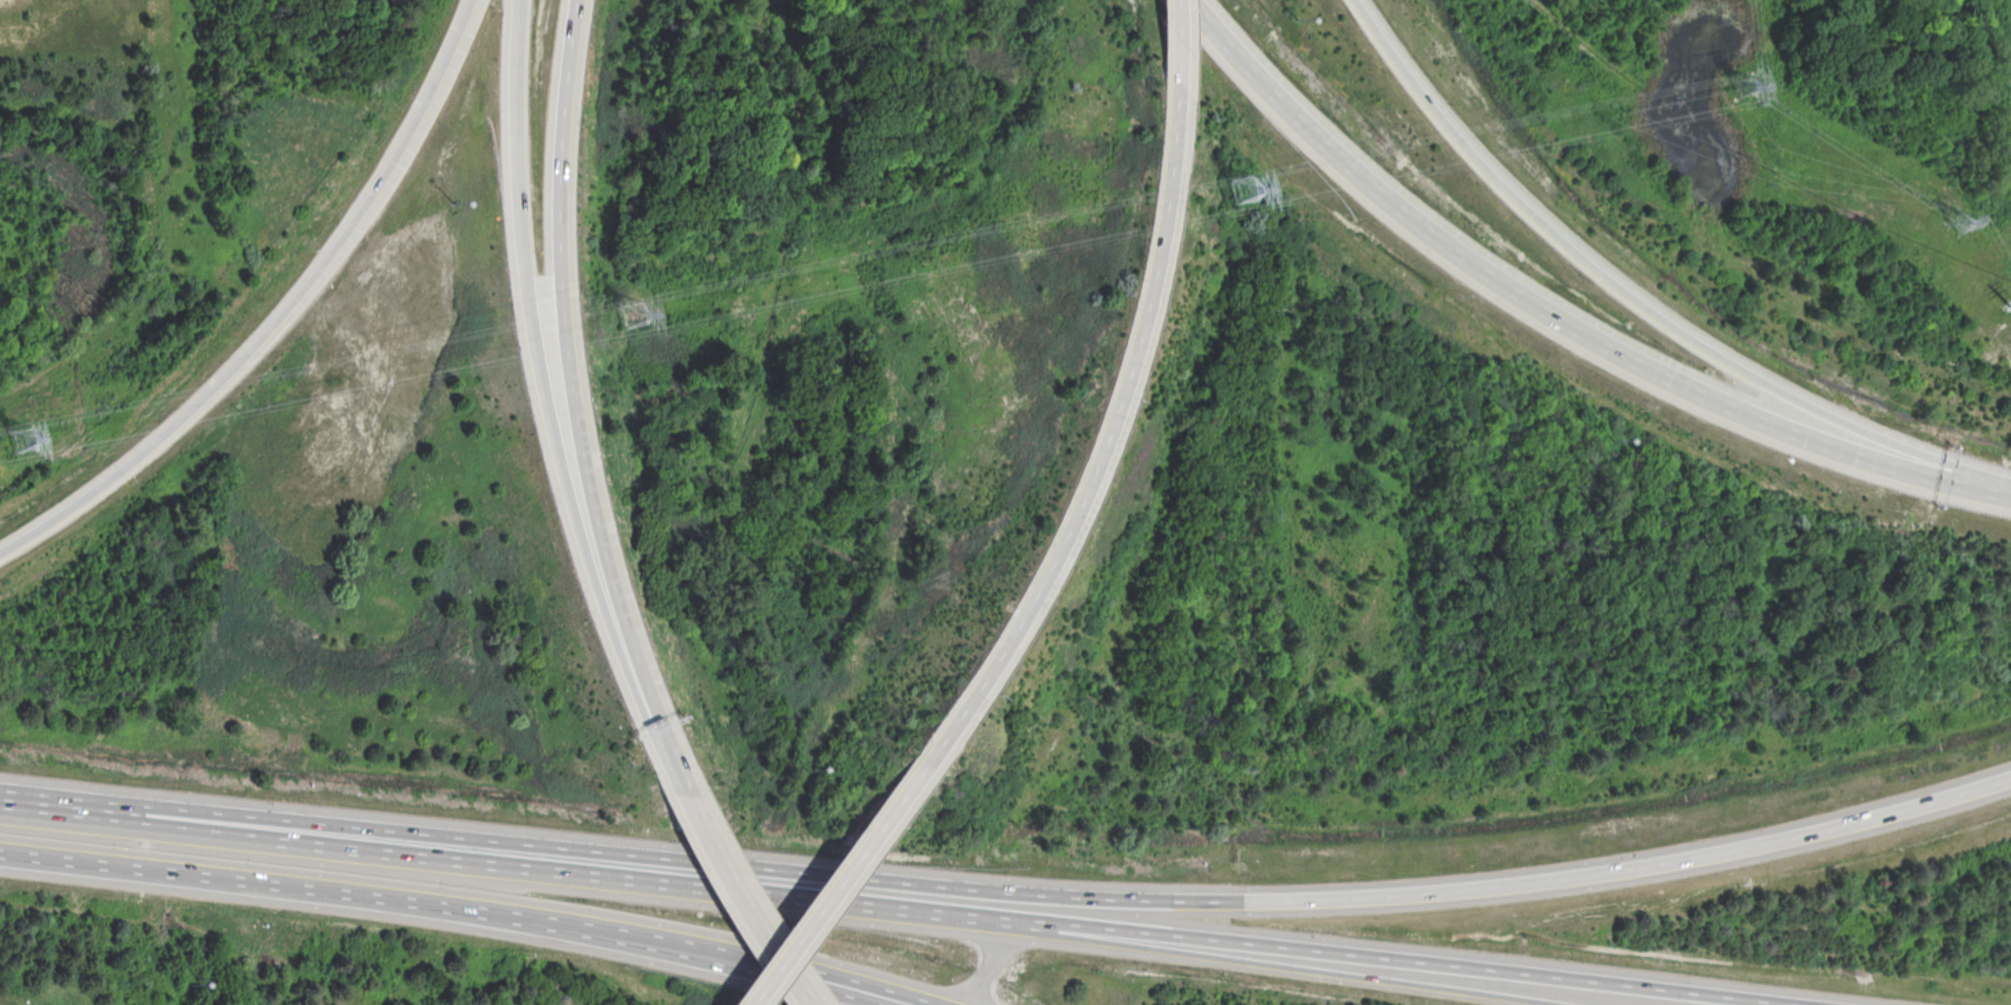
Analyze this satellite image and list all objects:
road: (1907, 7)
road: (516, 15)
road: (1174, 34)
power tower: (1745, 86)
power tower: (1239, 189)
power tower: (1957, 220)
road: (1638, 300)
power tower: (630, 314)
road: (281, 315)
road: (1556, 318)
road: (562, 340)
road: (532, 360)
power tower: (21, 439)
road: (1101, 439)
road: (655, 735)
road: (6, 798)
road: (126, 818)
road: (628, 878)
road: (828, 887)
road: (1016, 892)
road: (371, 895)
road: (740, 903)
road: (1408, 960)
road: (987, 961)
road: (1292, 966)
road: (827, 981)

